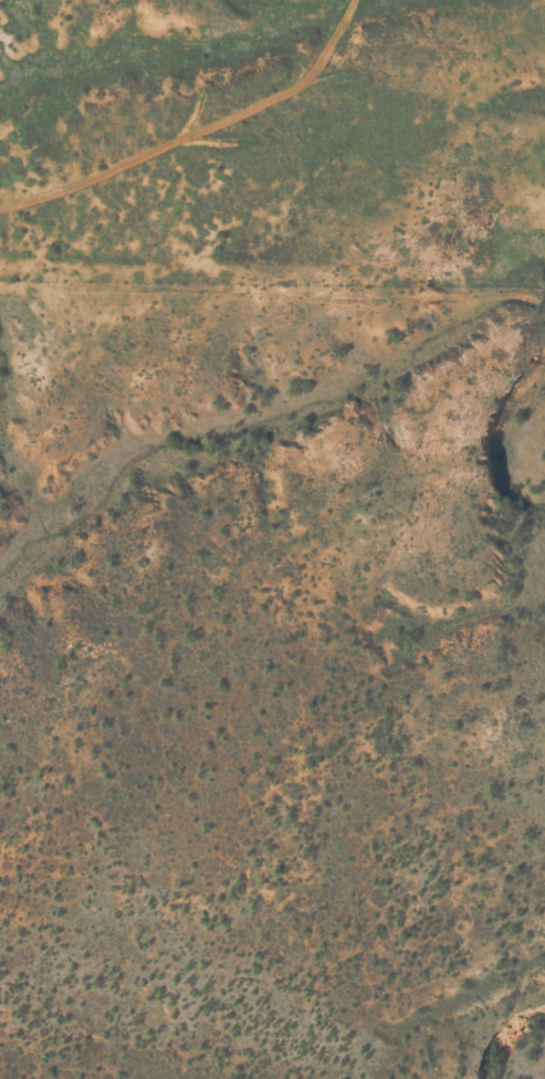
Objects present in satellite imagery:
road: (263, 643)

